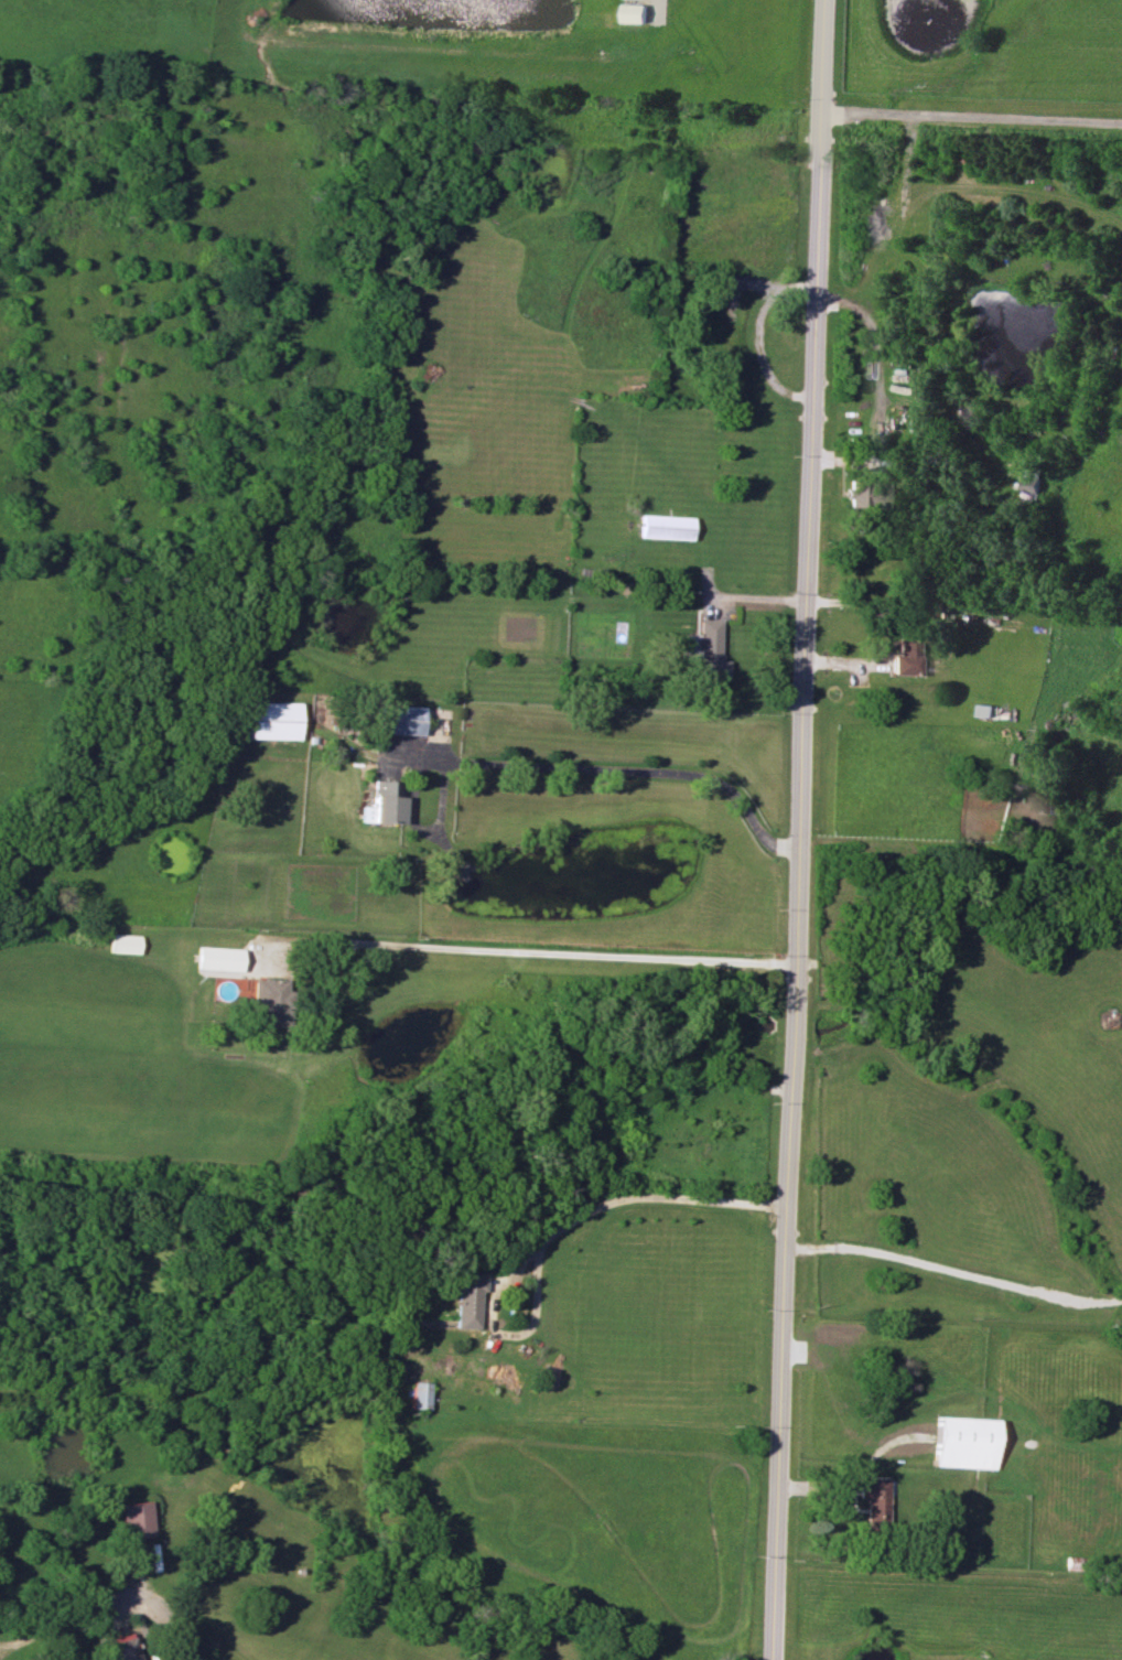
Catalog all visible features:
building: (636, 12)
road: (972, 111)
building: (713, 650)
building: (906, 658)
building: (400, 719)
building: (273, 720)
road: (614, 766)
building: (386, 801)
road: (799, 829)
road: (495, 949)
building: (219, 958)
building: (270, 1000)
road: (629, 1198)
road: (954, 1272)
building: (466, 1302)
building: (419, 1395)
building: (963, 1444)
building: (874, 1502)
road: (107, 1595)

